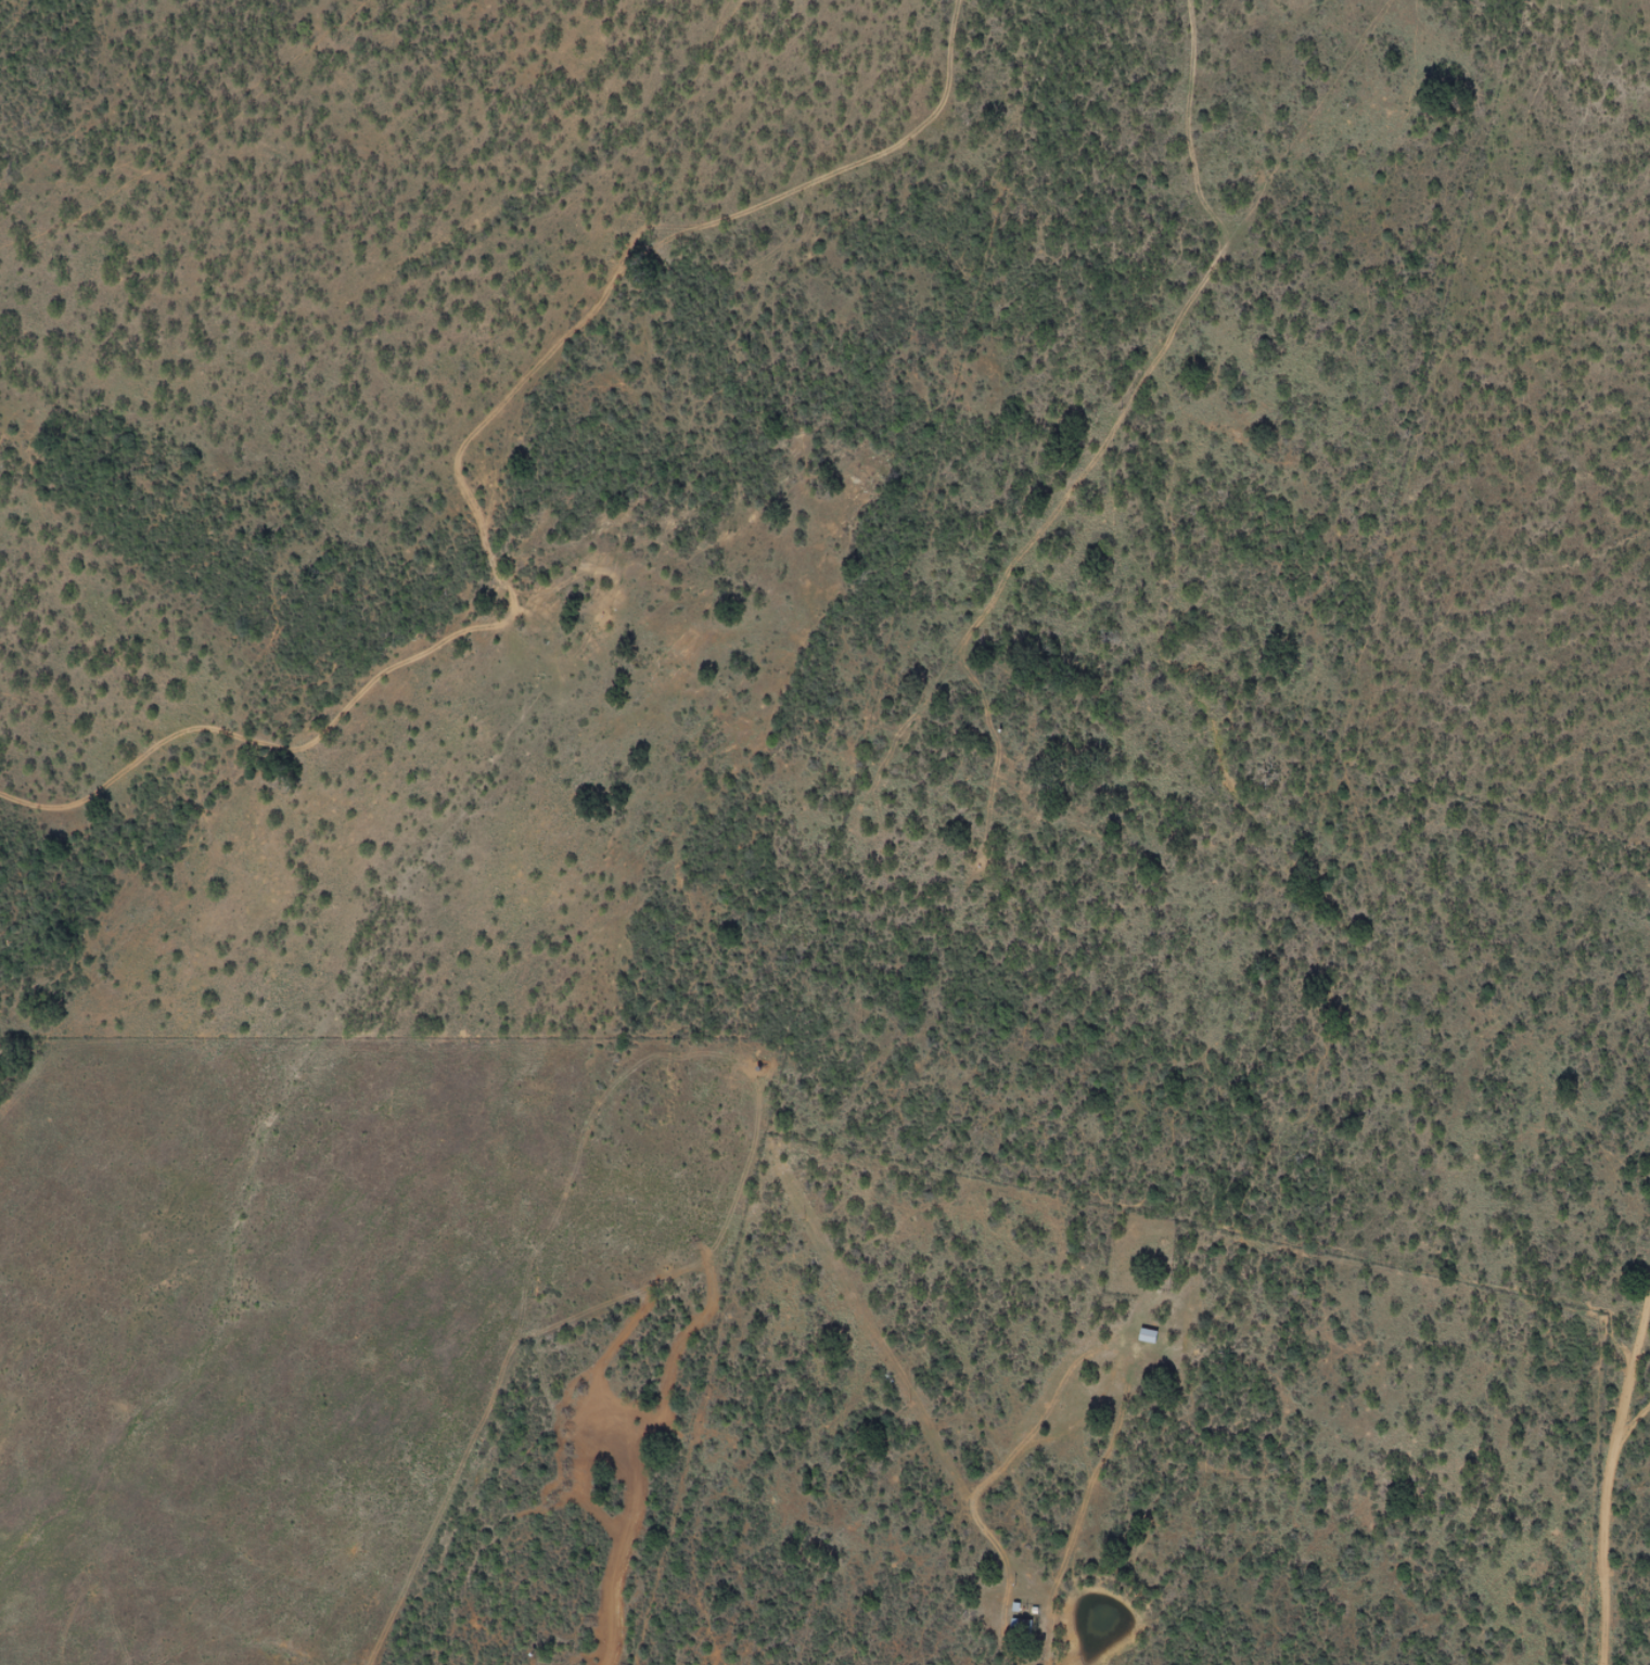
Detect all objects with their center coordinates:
building: (1148, 1336)
road: (1608, 1450)
building: (1021, 1627)

